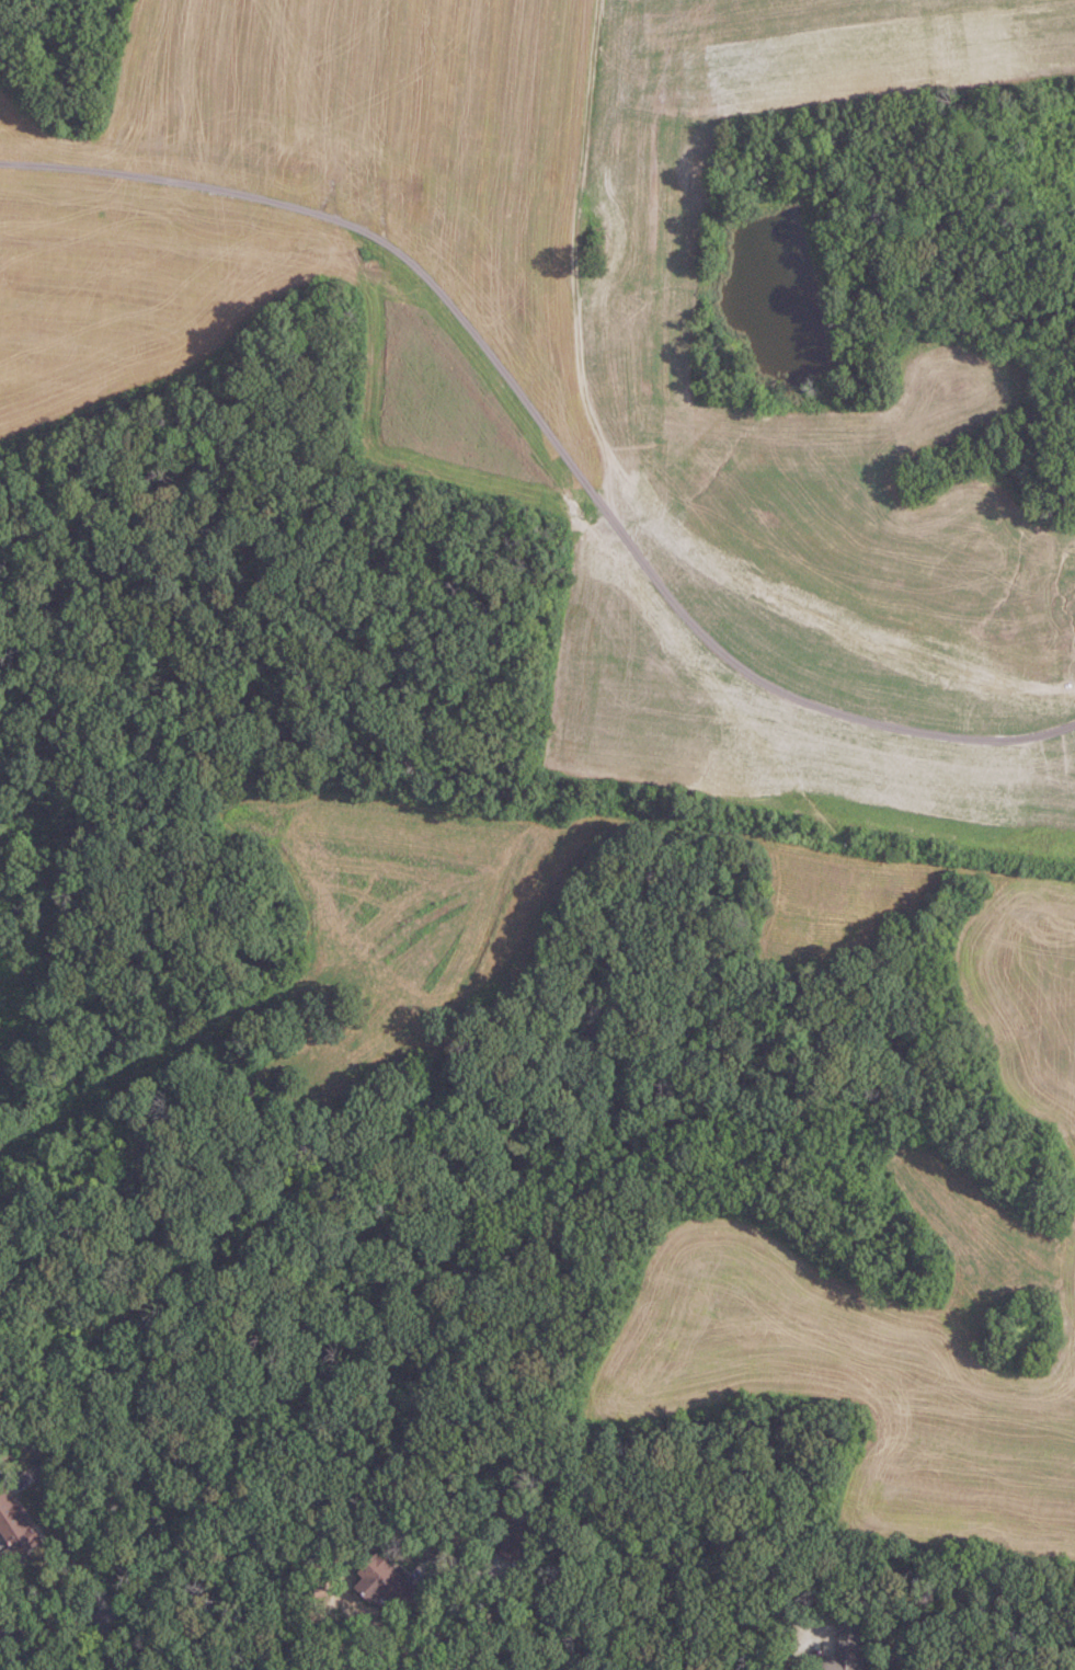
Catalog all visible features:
road: (549, 430)
road: (107, 1484)
road: (64, 1517)
building: (15, 1525)
building: (516, 1542)
building: (390, 1582)
road: (54, 1632)
road: (433, 1635)
road: (786, 1650)
building: (847, 1650)

